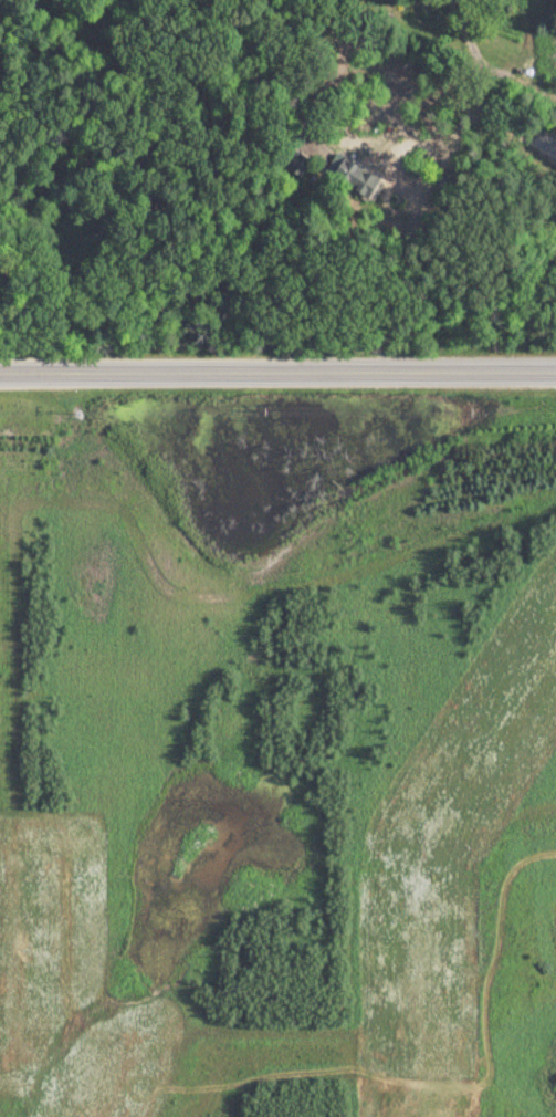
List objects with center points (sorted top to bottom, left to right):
road: (416, 75)
road: (318, 96)
road: (550, 137)
road: (277, 374)

